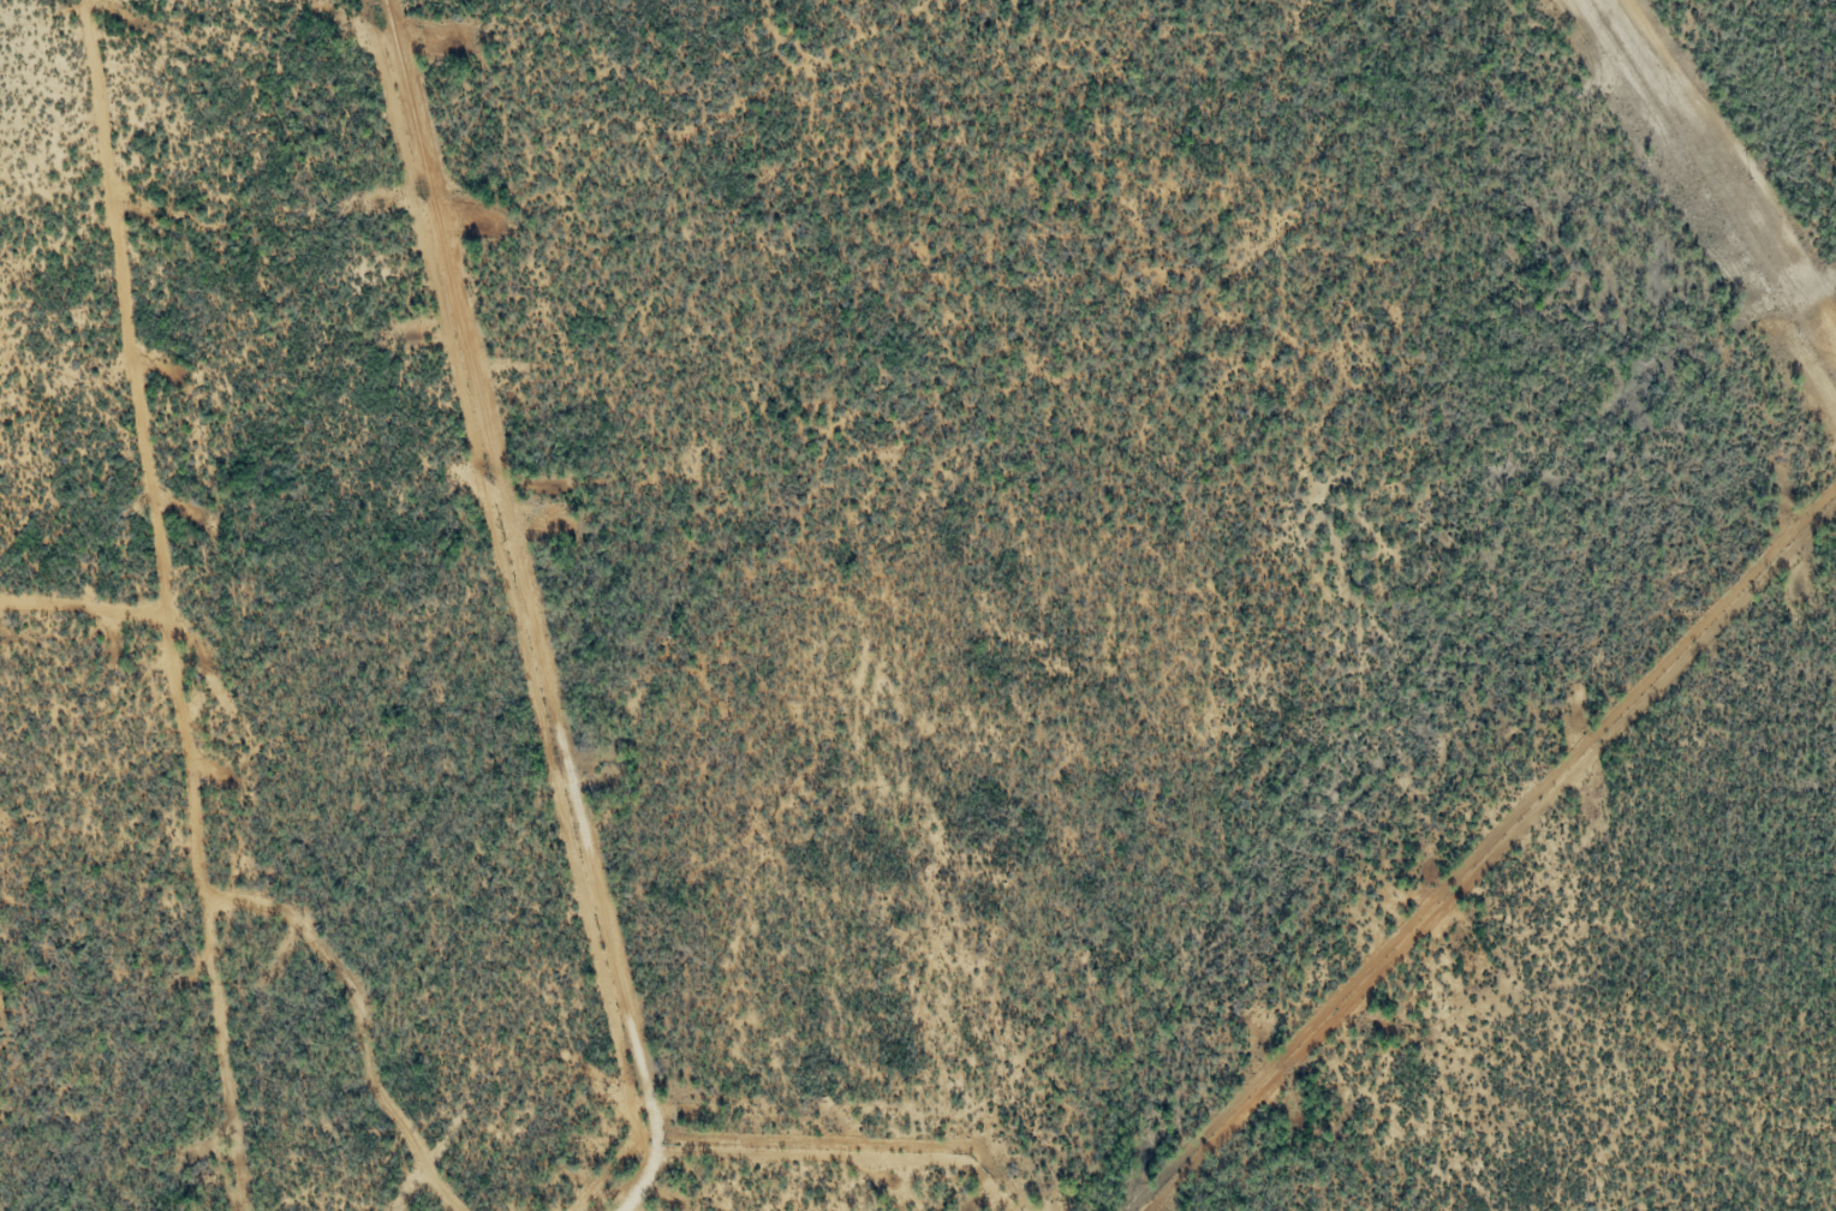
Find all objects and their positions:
power tower: (1748, 177)

